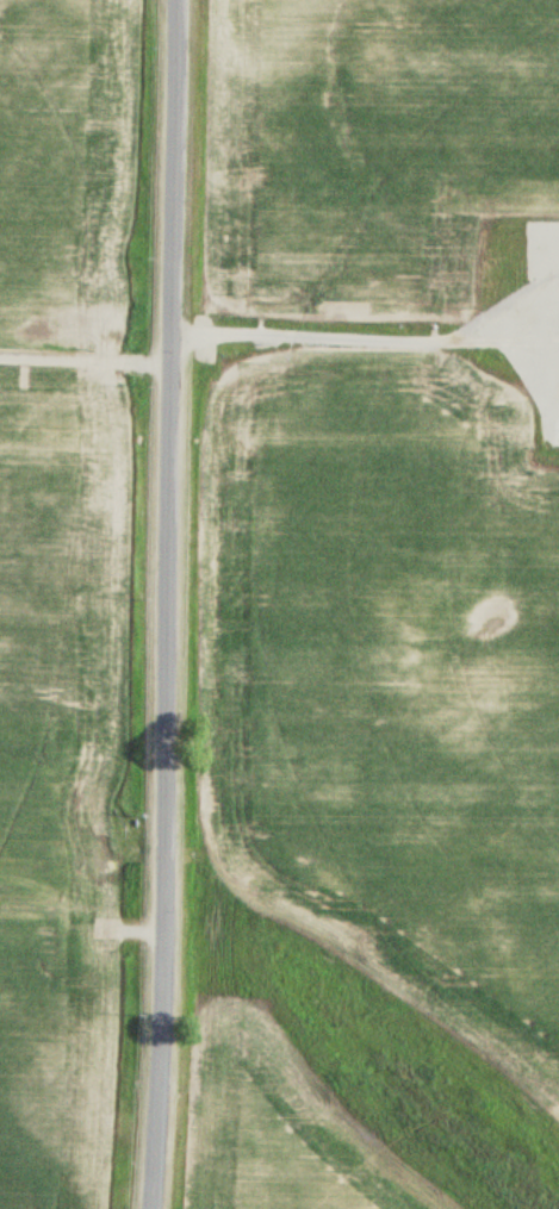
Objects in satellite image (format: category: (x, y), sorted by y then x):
road: (367, 335)
road: (86, 361)
road: (169, 604)

